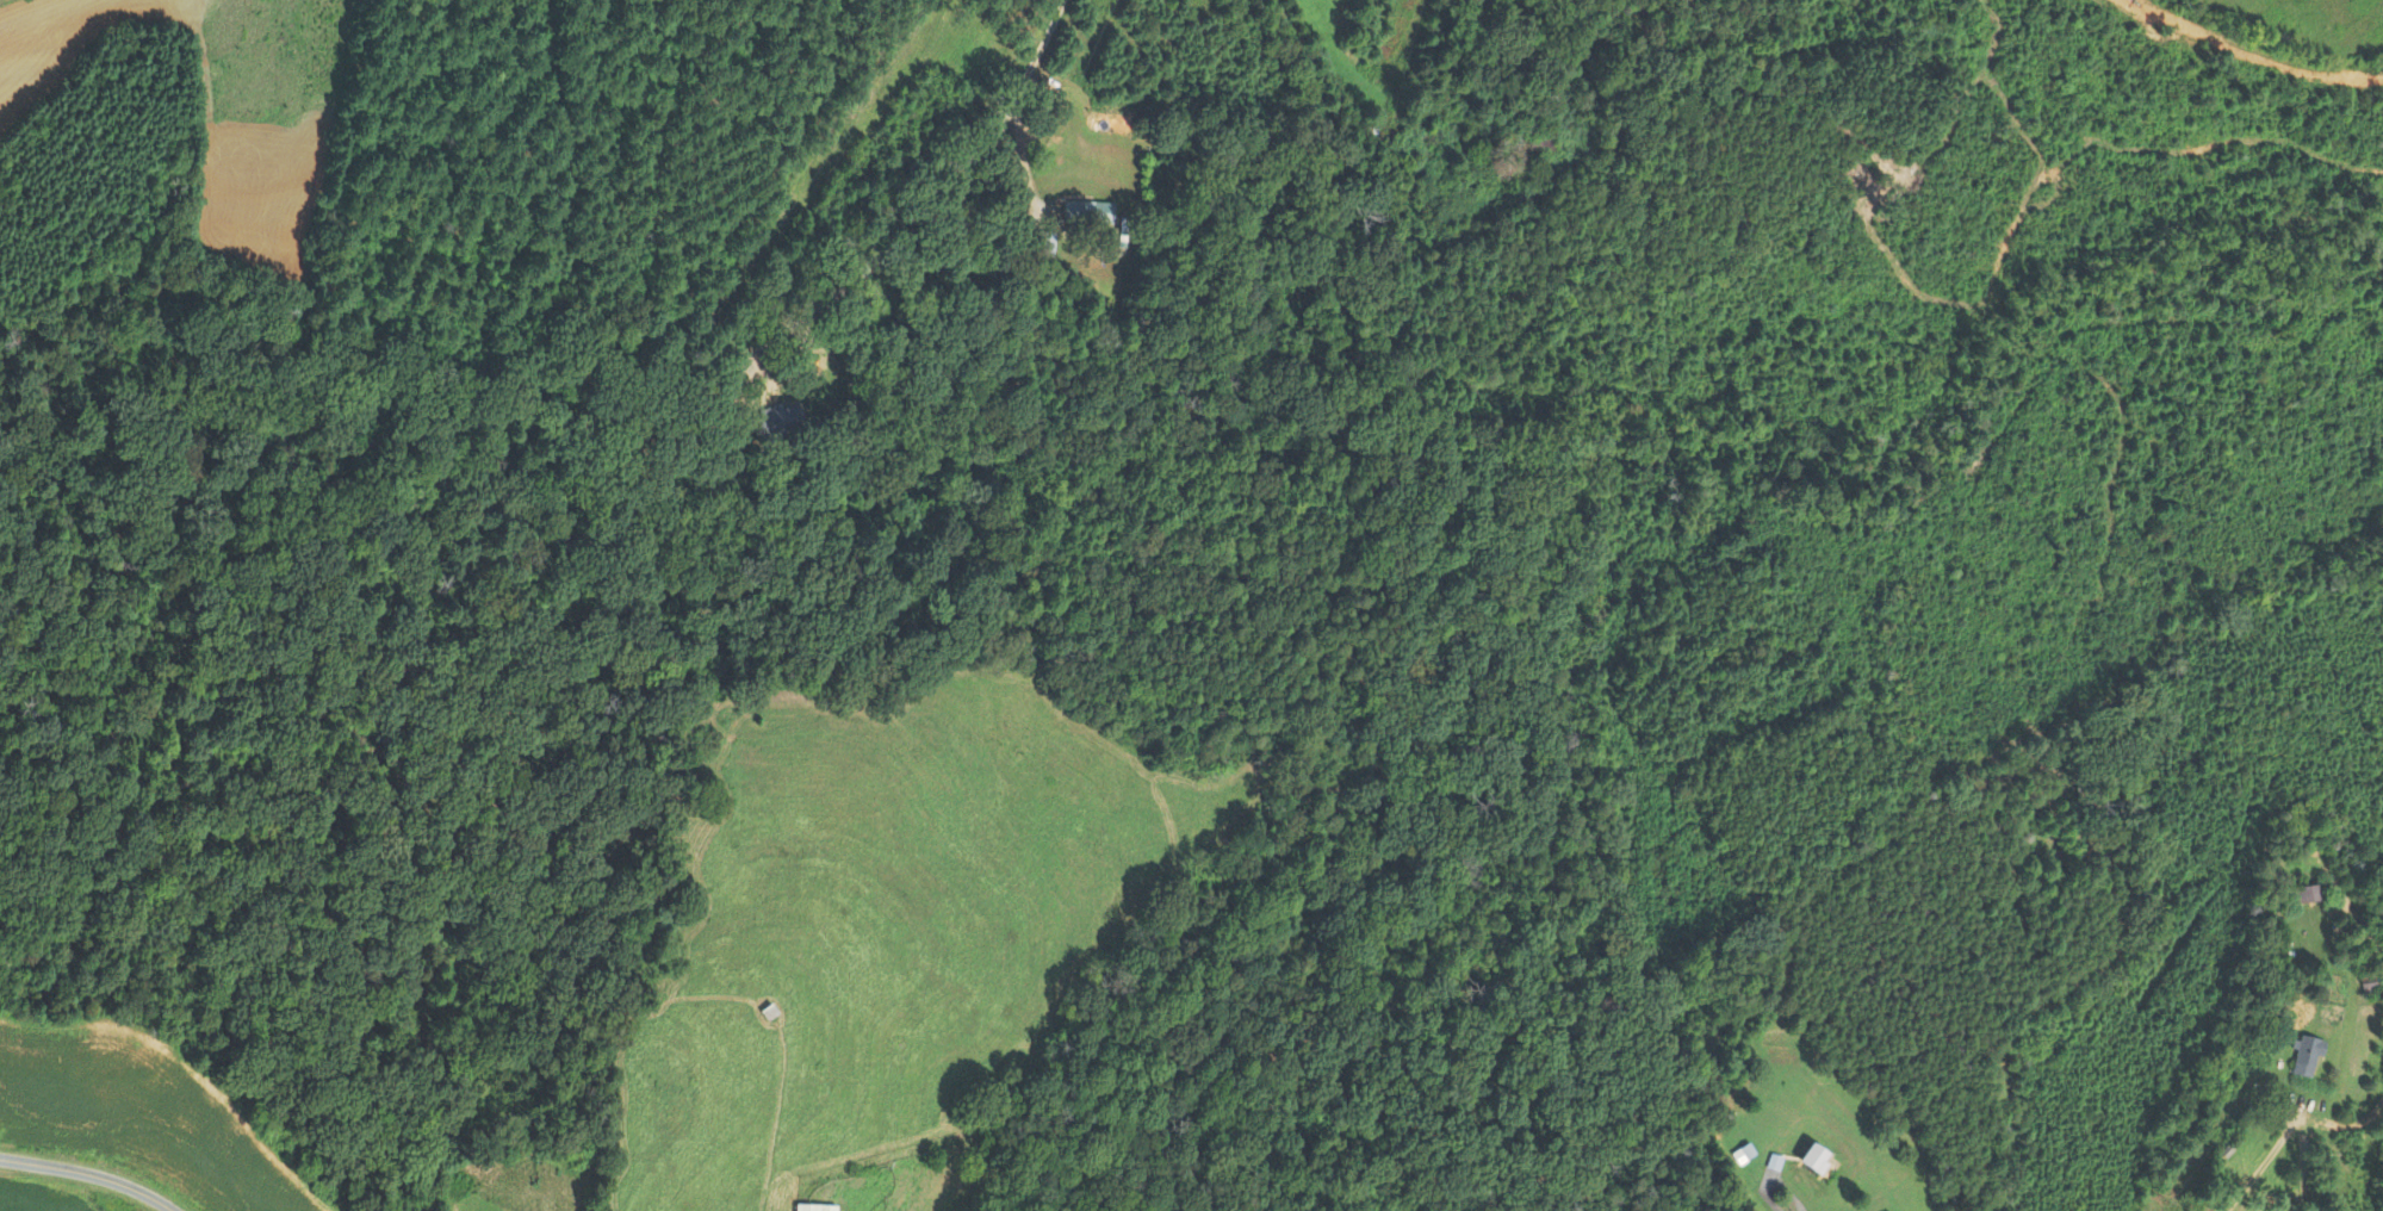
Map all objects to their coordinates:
road: (1304, 97)
building: (1544, 147)
road: (881, 201)
building: (1087, 211)
building: (1043, 243)
building: (776, 422)
building: (2307, 894)
building: (2306, 1056)
building: (1743, 1153)
building: (1814, 1159)
road: (89, 1175)
road: (1783, 1190)
building: (815, 1207)

